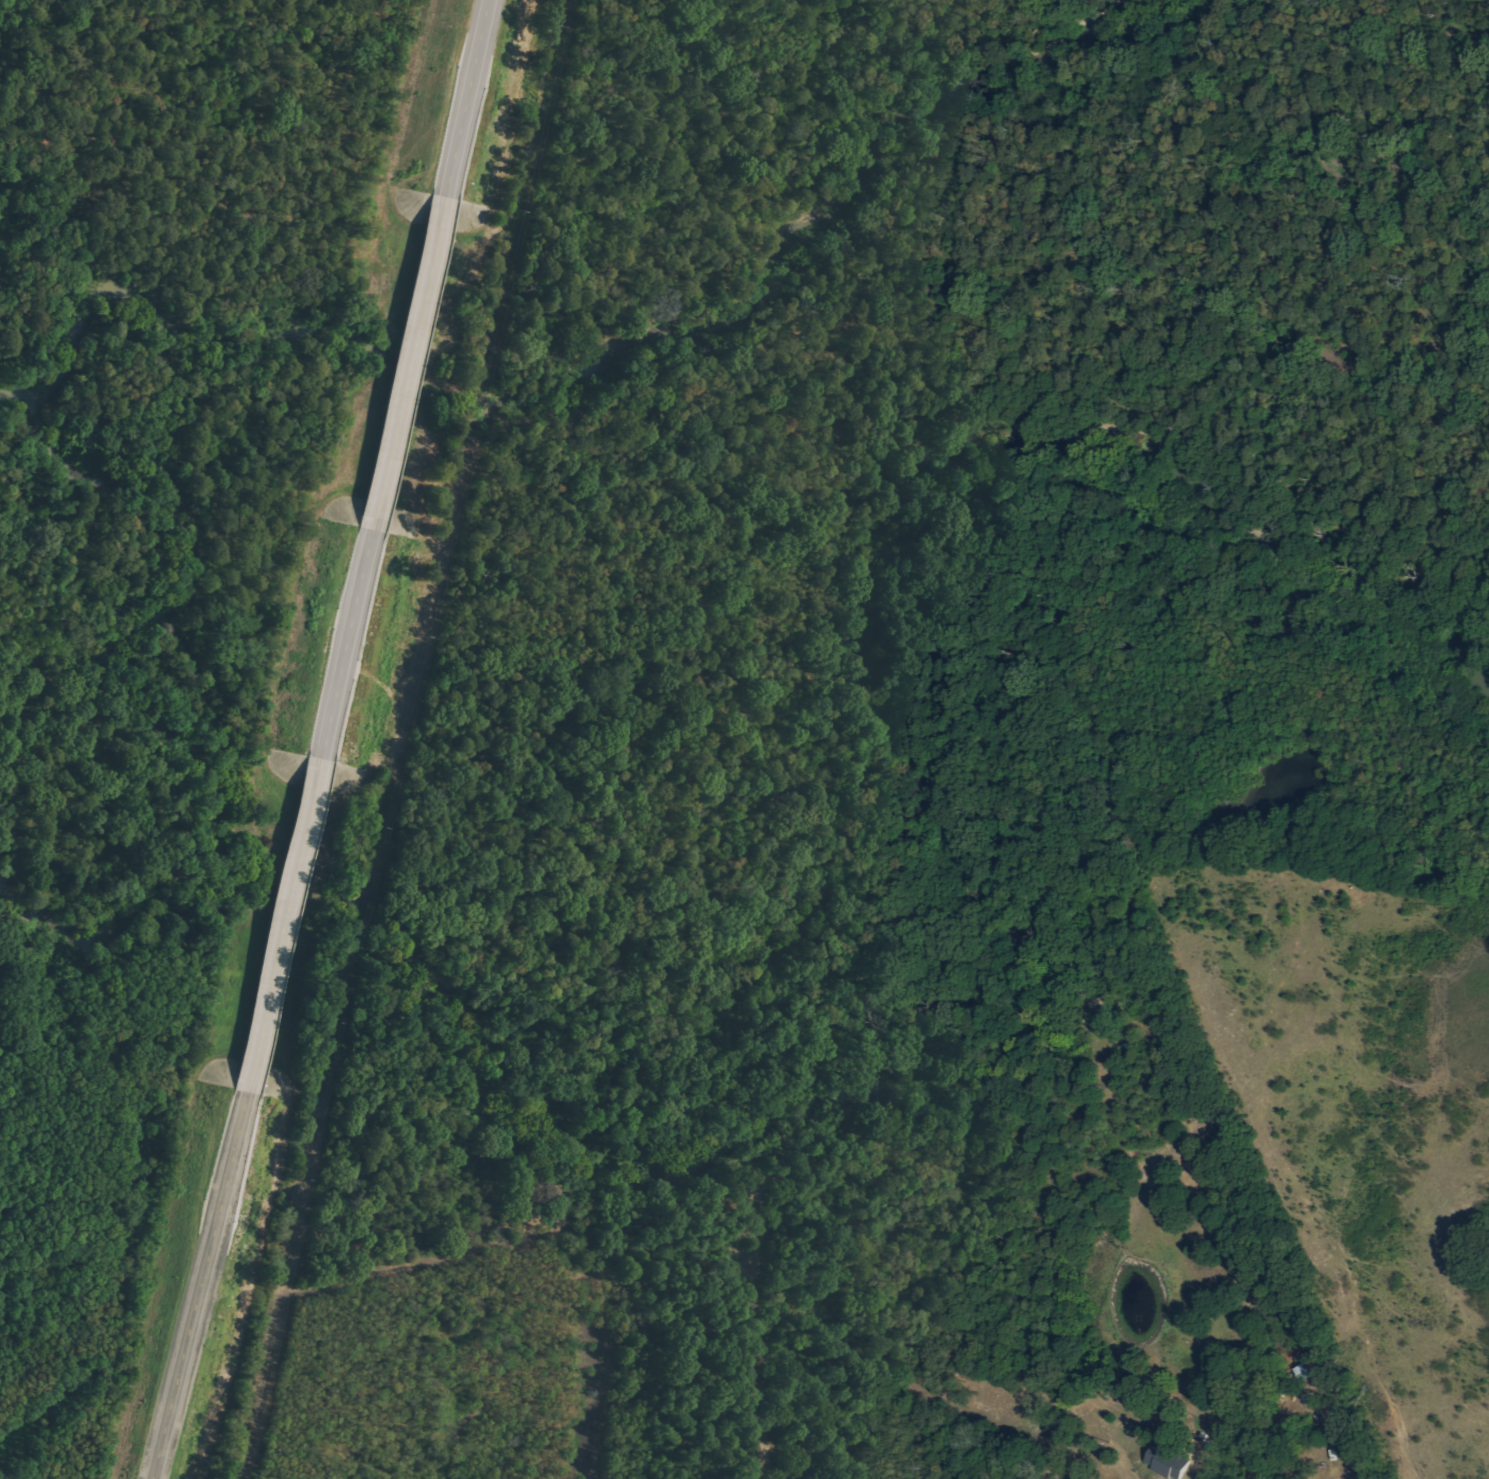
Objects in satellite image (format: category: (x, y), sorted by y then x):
road: (467, 98)
road: (409, 363)
road: (348, 644)
road: (285, 924)
river: (1052, 1006)
road: (200, 1284)
building: (1170, 1461)

